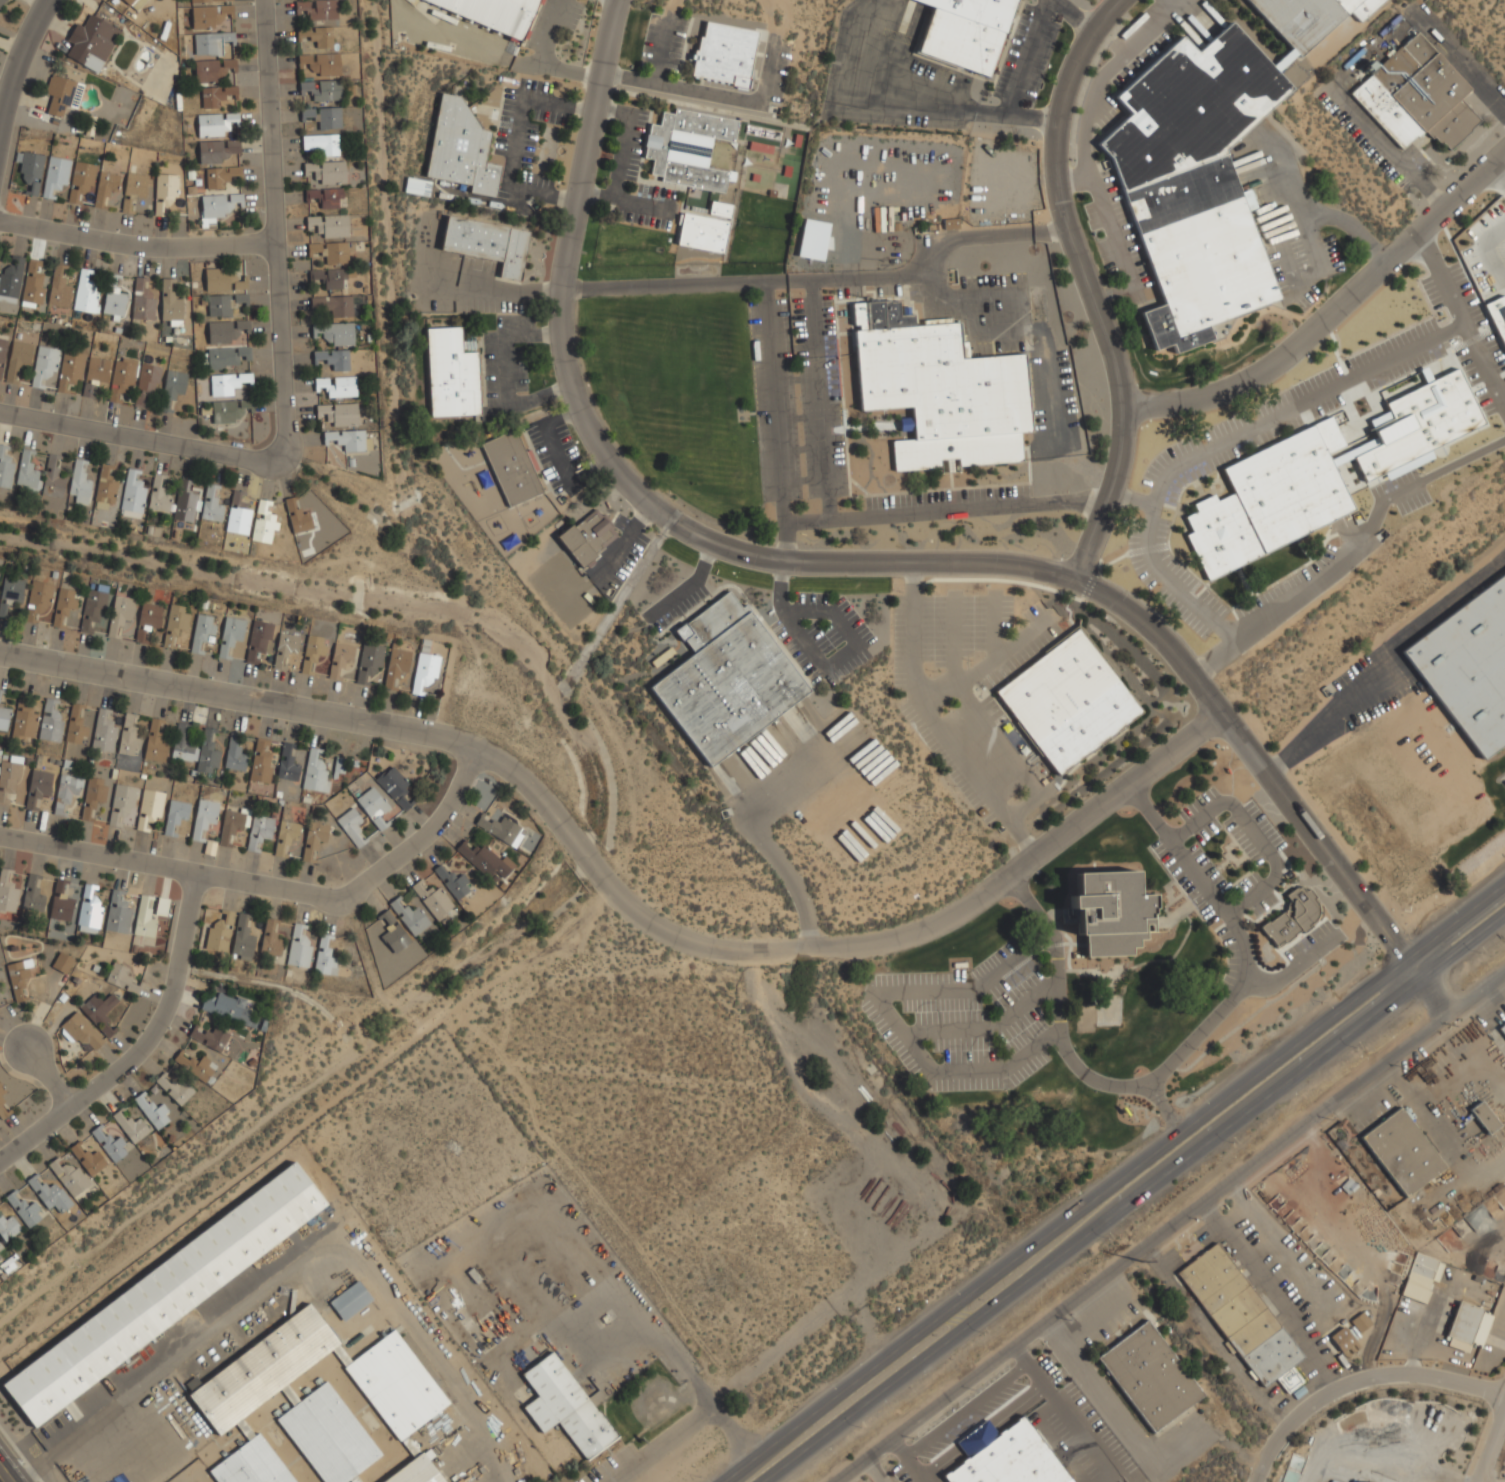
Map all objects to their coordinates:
building: (210, 0)
building: (1, 2)
building: (128, 2)
building: (316, 9)
building: (494, 13)
building: (207, 17)
building: (1308, 18)
building: (965, 32)
building: (317, 35)
building: (91, 43)
building: (211, 43)
building: (725, 53)
road: (1027, 54)
road: (1459, 61)
road: (20, 62)
building: (321, 63)
building: (211, 70)
building: (321, 89)
building: (62, 94)
building: (216, 95)
building: (1417, 95)
road: (921, 106)
building: (323, 117)
building: (214, 124)
building: (319, 143)
building: (460, 148)
building: (689, 148)
road: (1388, 149)
building: (216, 150)
building: (30, 171)
building: (326, 171)
building: (55, 175)
building: (83, 176)
building: (219, 176)
road: (1497, 179)
building: (1195, 182)
building: (417, 187)
building: (106, 188)
building: (133, 190)
building: (164, 192)
building: (325, 197)
building: (216, 207)
building: (329, 225)
building: (706, 228)
road: (134, 243)
building: (488, 243)
building: (330, 251)
building: (10, 277)
building: (330, 277)
building: (223, 279)
building: (34, 282)
road: (822, 282)
road: (1086, 286)
building: (58, 288)
building: (85, 293)
building: (240, 298)
building: (143, 300)
building: (114, 301)
building: (170, 304)
building: (219, 304)
building: (333, 306)
road: (1332, 316)
building: (1498, 316)
road: (1463, 320)
building: (223, 332)
building: (335, 333)
road: (1013, 339)
building: (2, 354)
building: (225, 357)
building: (17, 358)
building: (333, 359)
building: (44, 364)
road: (277, 367)
building: (70, 370)
building: (95, 374)
building: (451, 374)
building: (121, 379)
building: (146, 382)
building: (226, 383)
building: (173, 385)
building: (337, 386)
building: (939, 389)
road: (820, 399)
road: (1299, 404)
building: (228, 410)
building: (339, 414)
road: (774, 423)
building: (1419, 425)
building: (349, 439)
building: (511, 467)
building: (5, 468)
building: (27, 472)
road: (618, 473)
building: (52, 479)
building: (79, 483)
building: (159, 492)
building: (133, 495)
building: (105, 497)
building: (1271, 499)
building: (185, 503)
building: (211, 505)
road: (944, 507)
building: (238, 514)
building: (297, 517)
building: (263, 523)
road: (1364, 530)
building: (588, 536)
road: (1175, 590)
building: (11, 591)
street lamp: (973, 592)
building: (38, 599)
building: (64, 603)
building: (92, 610)
building: (120, 613)
building: (150, 615)
building: (176, 622)
building: (202, 630)
building: (230, 634)
building: (141, 636)
building: (258, 640)
building: (285, 648)
building: (314, 651)
road: (1382, 658)
building: (341, 660)
building: (369, 661)
building: (1468, 663)
building: (396, 666)
building: (424, 672)
building: (727, 679)
building: (0, 693)
building: (1067, 701)
building: (4, 717)
building: (24, 720)
building: (50, 722)
building: (75, 726)
building: (104, 732)
building: (128, 737)
building: (155, 743)
building: (182, 744)
building: (207, 753)
building: (235, 753)
building: (261, 762)
building: (287, 763)
building: (315, 771)
building: (9, 777)
building: (394, 785)
building: (38, 788)
building: (66, 791)
building: (92, 798)
building: (122, 803)
street lamp: (1182, 805)
building: (373, 806)
building: (150, 807)
building: (175, 814)
building: (204, 816)
building: (233, 826)
building: (352, 826)
building: (501, 830)
building: (259, 832)
building: (313, 838)
building: (288, 840)
building: (485, 860)
building: (452, 882)
road: (270, 886)
building: (7, 894)
building: (33, 894)
road: (618, 896)
building: (432, 899)
building: (60, 903)
building: (161, 906)
building: (89, 907)
street lamp: (1446, 907)
building: (117, 913)
building: (1111, 913)
building: (409, 916)
building: (1292, 917)
building: (144, 918)
street lamp: (1245, 921)
building: (219, 933)
building: (393, 933)
building: (242, 939)
building: (270, 940)
building: (299, 946)
street lamp: (1481, 952)
building: (324, 957)
building: (62, 963)
street lamp: (1261, 965)
street lamp: (967, 968)
building: (19, 974)
building: (121, 978)
street lamp: (1322, 1002)
street lamp: (894, 1005)
building: (229, 1009)
building: (99, 1012)
street lamp: (1050, 1022)
building: (1502, 1028)
building: (83, 1033)
building: (209, 1037)
road: (142, 1045)
street lamp: (1357, 1048)
street lamp: (1194, 1053)
road: (1179, 1056)
street lamp: (937, 1060)
building: (195, 1065)
road: (49, 1079)
building: (174, 1087)
street lamp: (1198, 1097)
road: (1163, 1109)
building: (152, 1111)
building: (1484, 1117)
building: (131, 1127)
street lamp: (1233, 1143)
building: (109, 1144)
building: (1402, 1152)
building: (88, 1159)
building: (67, 1175)
road: (1114, 1184)
building: (49, 1194)
street lamp: (1068, 1197)
road: (1133, 1198)
building: (22, 1209)
building: (8, 1228)
road: (1170, 1228)
street lamp: (1108, 1238)
building: (0, 1248)
power tower: (1141, 1261)
street lamp: (949, 1287)
building: (164, 1294)
building: (351, 1301)
building: (1242, 1318)
building: (1360, 1322)
building: (1467, 1327)
road: (650, 1328)
street lamp: (982, 1331)
building: (1342, 1339)
building: (1149, 1376)
road: (1360, 1382)
street lamp: (826, 1383)
building: (320, 1405)
building: (565, 1407)
road: (722, 1415)
street lamp: (861, 1428)
road: (662, 1444)
road: (1493, 1453)
building: (1005, 1456)
road: (3, 1476)
street lamp: (701, 1477)

